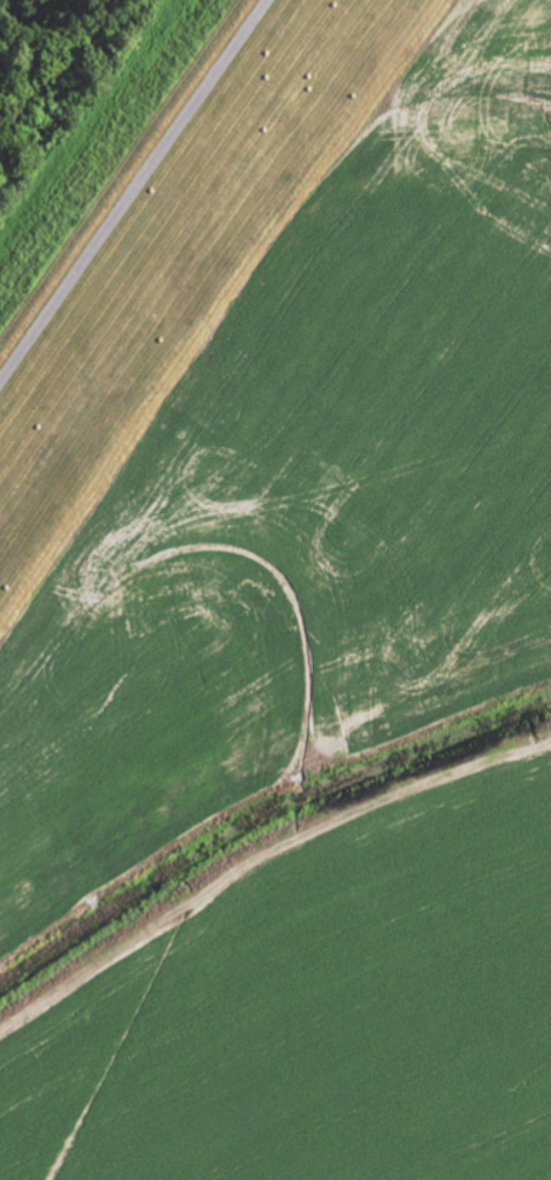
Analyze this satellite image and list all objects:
road: (134, 191)

